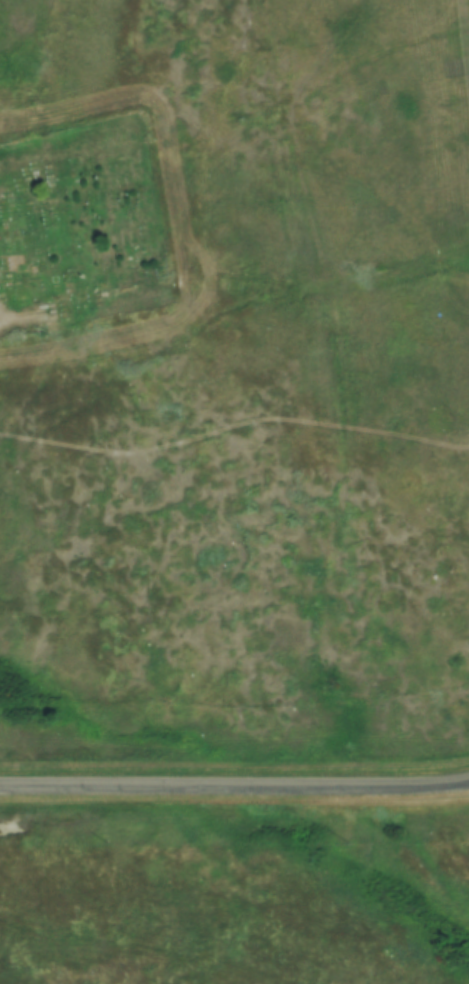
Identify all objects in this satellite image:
park: (80, 225)
road: (234, 787)

